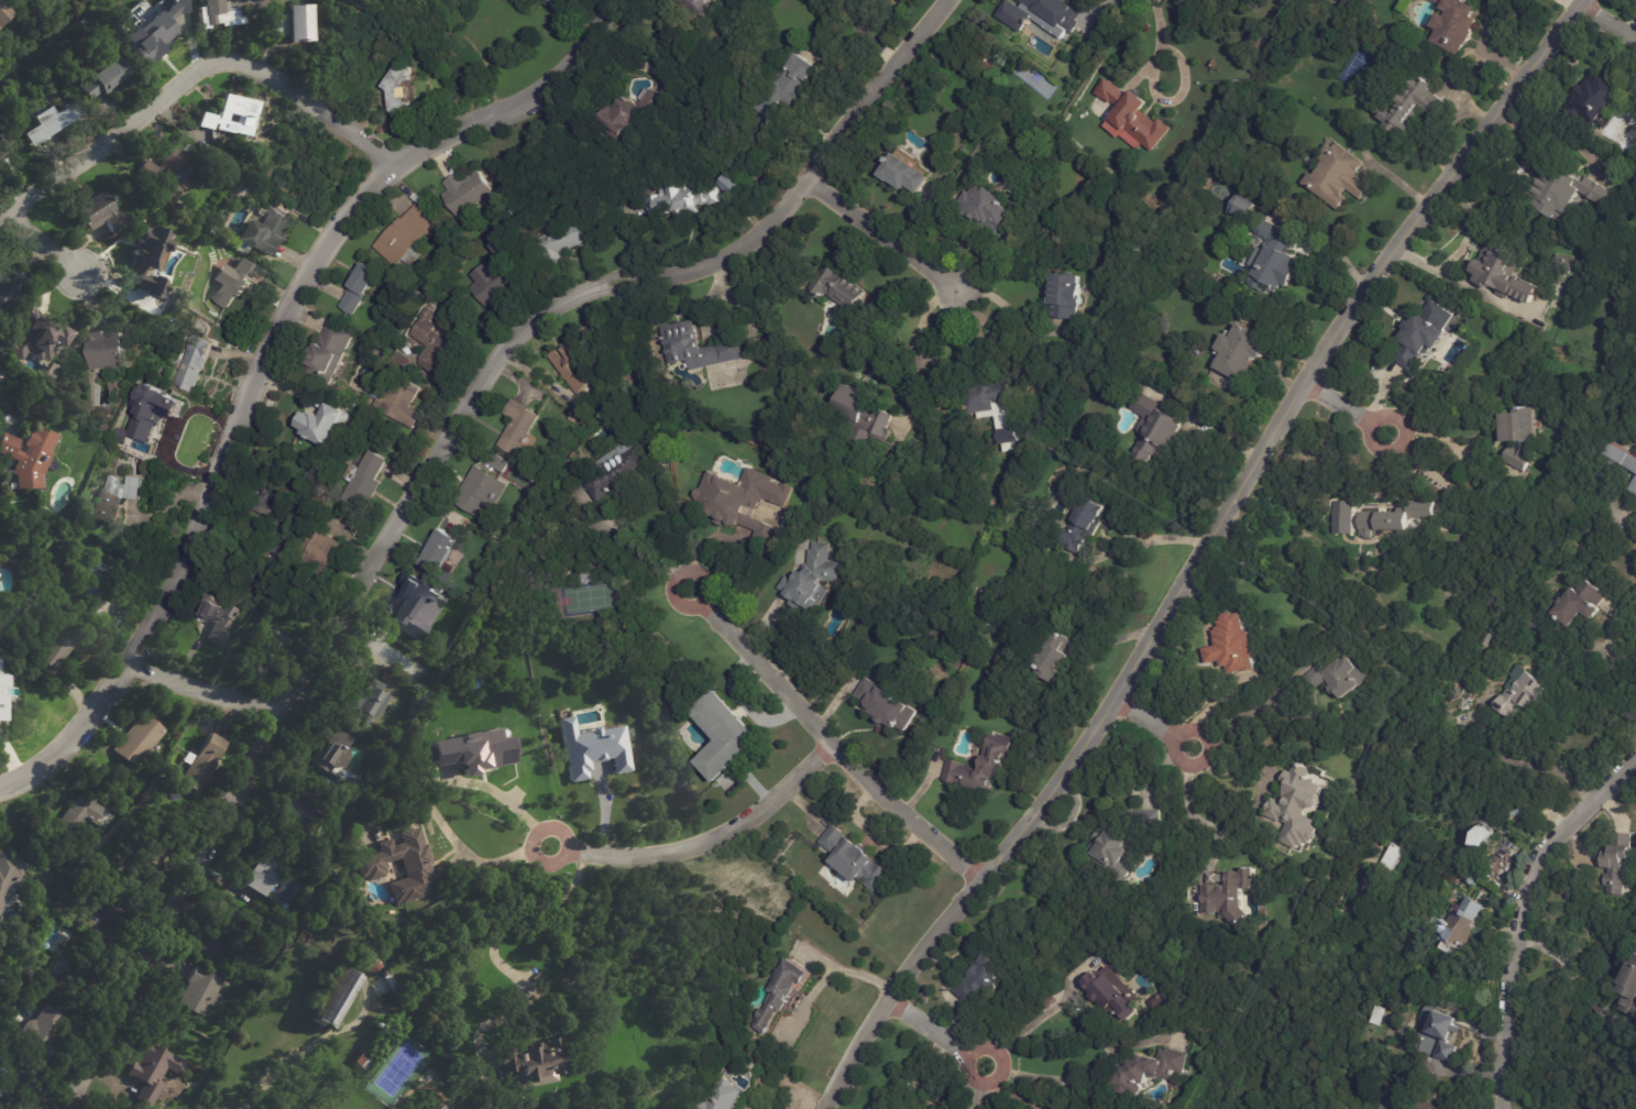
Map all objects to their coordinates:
road: (1193, 0)
building: (555, 2)
building: (694, 7)
building: (1058, 13)
building: (219, 14)
building: (2, 15)
road: (1607, 20)
building: (281, 25)
building: (299, 25)
building: (1458, 26)
road: (1161, 41)
building: (154, 45)
building: (89, 55)
road: (191, 74)
building: (106, 81)
building: (791, 84)
building: (397, 95)
building: (1602, 99)
building: (1412, 108)
building: (764, 113)
building: (627, 117)
building: (1133, 117)
building: (232, 118)
building: (57, 121)
building: (7, 149)
building: (177, 172)
building: (905, 173)
building: (1338, 176)
building: (727, 186)
building: (1568, 193)
building: (465, 194)
building: (677, 201)
building: (987, 206)
building: (1240, 208)
building: (101, 215)
building: (263, 233)
building: (1275, 233)
building: (406, 237)
road: (882, 237)
road: (41, 242)
building: (561, 243)
building: (144, 261)
building: (1276, 268)
building: (1503, 273)
building: (496, 275)
building: (234, 283)
building: (11, 287)
building: (359, 288)
building: (843, 290)
building: (439, 293)
building: (1066, 295)
road: (1009, 308)
building: (39, 336)
building: (1421, 340)
building: (438, 345)
building: (698, 347)
building: (1245, 351)
building: (106, 352)
road: (918, 352)
building: (328, 353)
road: (266, 354)
building: (399, 360)
building: (572, 364)
building: (194, 366)
building: (991, 396)
building: (398, 399)
building: (1, 402)
building: (351, 408)
road: (1346, 409)
building: (865, 416)
building: (151, 422)
building: (323, 424)
building: (518, 427)
building: (1156, 428)
road: (1435, 431)
building: (1518, 436)
building: (163, 451)
building: (31, 457)
building: (1618, 461)
building: (498, 463)
road: (425, 471)
building: (621, 471)
building: (364, 481)
building: (1634, 487)
building: (480, 492)
building: (114, 499)
building: (742, 501)
building: (275, 504)
building: (894, 508)
building: (1393, 518)
building: (1087, 520)
road: (1618, 529)
road: (1150, 539)
building: (915, 549)
road: (652, 550)
building: (439, 551)
building: (320, 552)
road: (1203, 553)
building: (12, 559)
building: (592, 578)
building: (813, 580)
building: (91, 590)
building: (1578, 604)
building: (405, 606)
building: (218, 619)
building: (1487, 639)
road: (1606, 643)
building: (1237, 645)
building: (268, 649)
road: (383, 655)
building: (52, 656)
building: (1054, 658)
building: (1337, 679)
road: (200, 693)
building: (7, 695)
building: (1522, 695)
building: (367, 699)
building: (889, 705)
road: (1247, 713)
road: (1154, 723)
building: (725, 737)
building: (138, 740)
road: (830, 742)
building: (588, 748)
building: (470, 749)
building: (336, 760)
building: (204, 764)
building: (984, 766)
road: (1185, 808)
building: (1297, 808)
building: (83, 815)
building: (295, 815)
building: (1148, 822)
building: (1480, 836)
road: (707, 838)
building: (1116, 850)
road: (481, 856)
building: (856, 859)
building: (149, 863)
building: (1615, 864)
building: (371, 868)
building: (266, 869)
building: (1381, 869)
building: (9, 876)
building: (1228, 896)
building: (328, 902)
road: (1524, 908)
building: (107, 913)
road: (520, 913)
building: (1465, 924)
building: (223, 932)
building: (278, 932)
building: (1395, 943)
building: (1409, 955)
building: (365, 957)
road: (1566, 969)
building: (77, 977)
building: (984, 977)
building: (1627, 988)
building: (202, 992)
building: (783, 996)
building: (1115, 997)
building: (336, 999)
building: (1159, 1002)
building: (403, 1004)
building: (1381, 1018)
road: (1024, 1031)
road: (936, 1032)
building: (42, 1039)
building: (282, 1039)
building: (1439, 1039)
building: (224, 1043)
building: (363, 1064)
building: (532, 1064)
building: (153, 1072)
building: (1151, 1073)
road: (1036, 1076)
road: (977, 1087)
building: (15, 1091)
road: (1012, 1092)
building: (723, 1095)
building: (438, 1107)

